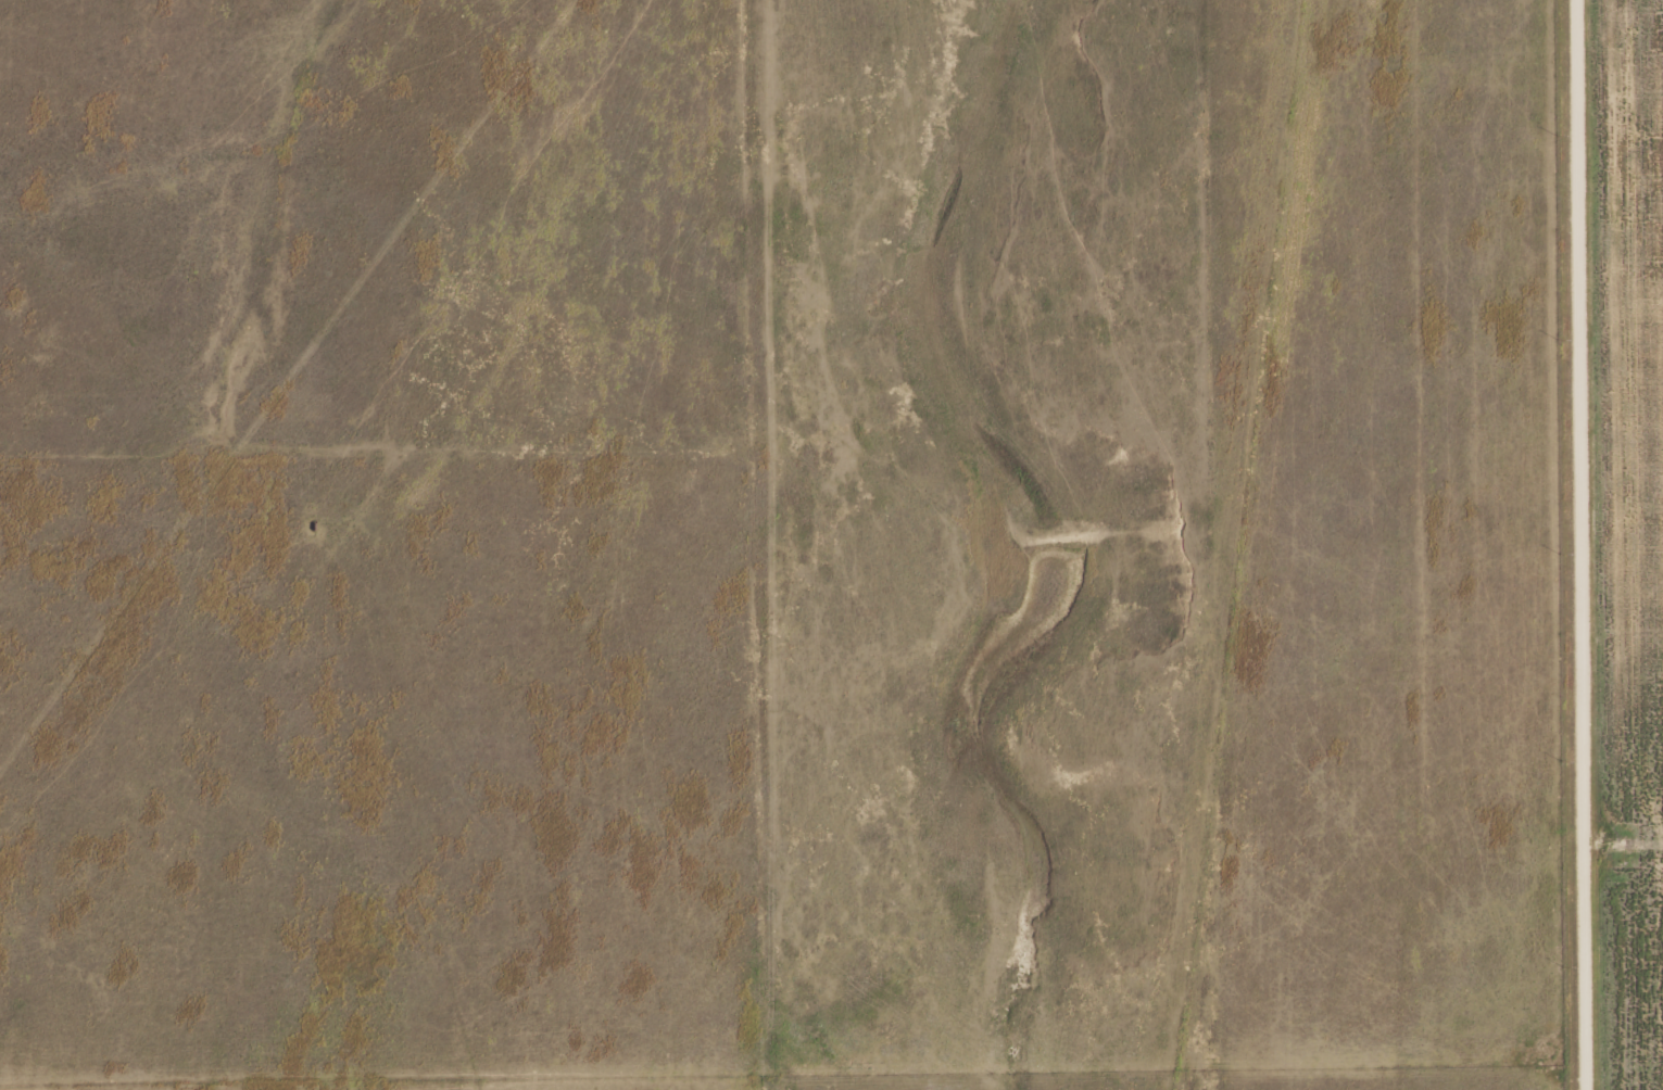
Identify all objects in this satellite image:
road: (1623, 151)
road: (1587, 544)

